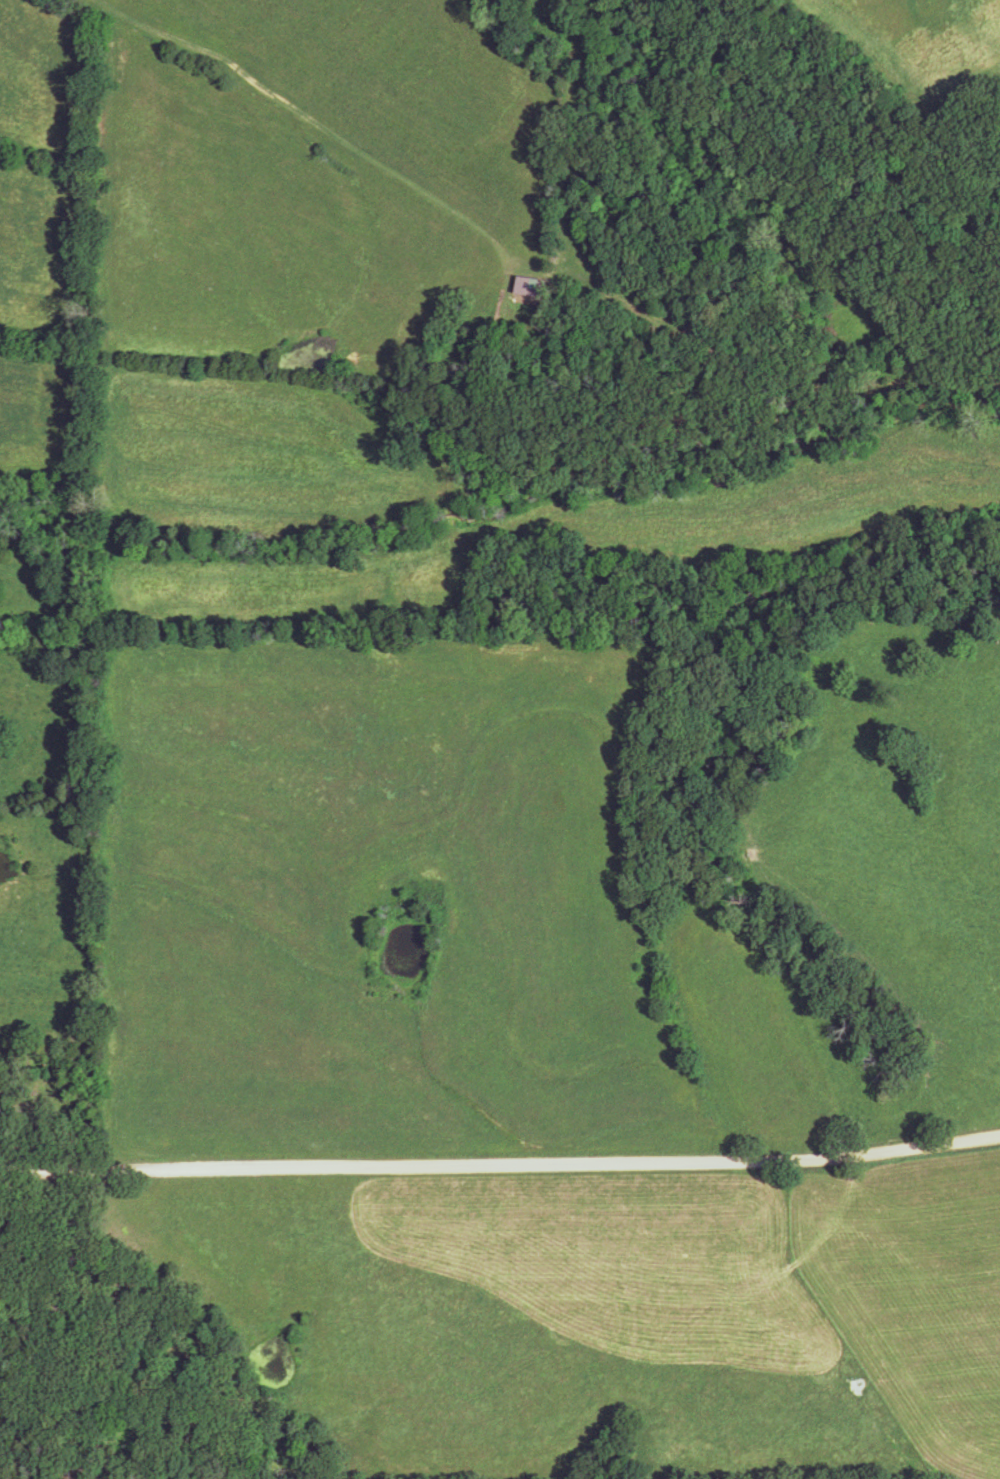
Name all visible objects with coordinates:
building: (531, 287)
road: (36, 1084)
road: (498, 1168)

